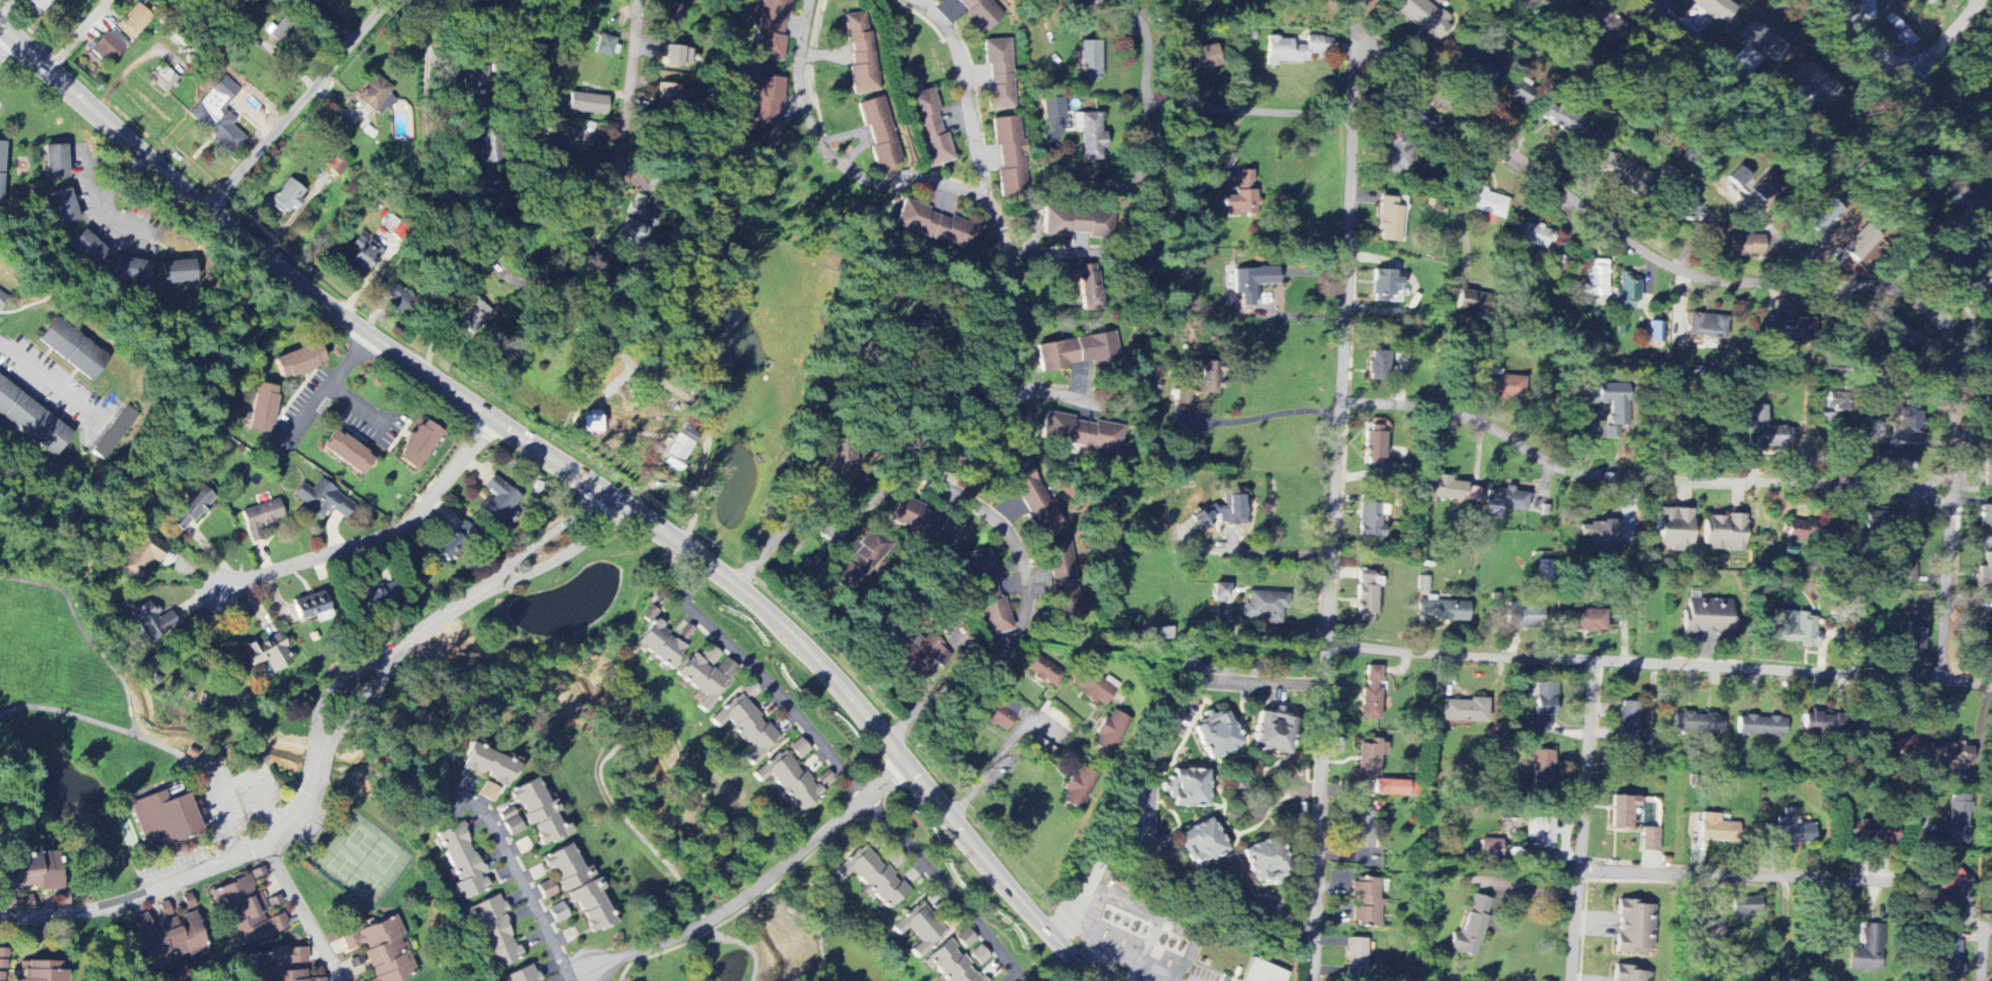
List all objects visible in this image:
building: (312, 0)
building: (1938, 0)
road: (1826, 1)
building: (39, 4)
building: (1531, 4)
building: (1713, 9)
building: (979, 13)
building: (671, 16)
building: (1425, 18)
building: (133, 22)
building: (1605, 24)
road: (1355, 26)
building: (771, 29)
road: (79, 35)
road: (1948, 41)
building: (1760, 44)
building: (604, 46)
building: (107, 47)
road: (7, 48)
building: (1295, 50)
building: (861, 54)
building: (675, 58)
building: (1196, 59)
building: (1090, 62)
building: (1477, 68)
building: (475, 72)
building: (999, 74)
building: (161, 78)
road: (1911, 80)
building: (1813, 86)
road: (963, 89)
building: (670, 91)
building: (378, 93)
building: (1518, 94)
road: (428, 96)
road: (1195, 103)
road: (301, 105)
building: (586, 105)
building: (1053, 109)
building: (766, 112)
building: (217, 117)
building: (1563, 120)
building: (403, 127)
building: (929, 128)
building: (880, 133)
building: (1090, 135)
building: (1399, 155)
road: (830, 156)
building: (1010, 157)
building: (54, 159)
building: (0, 160)
road: (616, 163)
building: (1626, 177)
building: (1752, 184)
road: (1139, 187)
road: (104, 196)
building: (1241, 197)
building: (285, 198)
building: (1959, 202)
building: (1486, 203)
building: (1690, 206)
building: (61, 207)
building: (1921, 211)
building: (1824, 216)
building: (1391, 219)
building: (635, 223)
building: (1077, 224)
building: (937, 227)
building: (1533, 235)
road: (1621, 236)
building: (1861, 242)
building: (1748, 245)
road: (1789, 247)
building: (86, 248)
road: (1048, 253)
building: (364, 255)
building: (129, 270)
building: (176, 272)
building: (1595, 279)
road: (1929, 279)
building: (1252, 283)
building: (1086, 284)
building: (1626, 292)
building: (2, 300)
road: (559, 302)
building: (1471, 305)
building: (474, 318)
building: (1707, 327)
building: (1655, 332)
building: (1785, 332)
building: (1907, 338)
building: (71, 350)
road: (1028, 351)
building: (1077, 351)
building: (298, 361)
building: (1378, 366)
building: (1203, 381)
road: (48, 383)
road: (328, 385)
building: (1500, 388)
building: (1613, 402)
building: (1837, 402)
road: (1062, 403)
road: (355, 406)
building: (261, 408)
road: (739, 410)
road: (1267, 415)
building: (1908, 419)
building: (31, 420)
building: (592, 422)
building: (1765, 430)
building: (1082, 433)
building: (1374, 442)
building: (417, 445)
building: (346, 453)
building: (677, 453)
building: (1895, 460)
road: (573, 474)
road: (1640, 479)
building: (1447, 489)
building: (1032, 498)
building: (324, 500)
building: (1506, 500)
building: (498, 501)
road: (773, 504)
building: (191, 508)
building: (1494, 511)
road: (985, 512)
building: (1223, 512)
road: (1334, 515)
building: (1986, 516)
building: (1370, 518)
building: (260, 519)
building: (1882, 523)
building: (929, 525)
building: (1674, 530)
building: (1800, 532)
building: (1599, 533)
building: (1724, 533)
road: (376, 539)
road: (539, 541)
road: (1273, 555)
building: (141, 556)
road: (556, 559)
building: (857, 565)
building: (1905, 569)
building: (1985, 574)
building: (1062, 582)
building: (987, 593)
building: (1220, 593)
building: (1367, 596)
building: (309, 606)
building: (1263, 608)
building: (1442, 611)
building: (1525, 617)
building: (1710, 618)
building: (1589, 620)
building: (153, 621)
building: (946, 622)
building: (1794, 628)
building: (1163, 633)
building: (1914, 639)
building: (661, 646)
building: (267, 653)
building: (919, 654)
building: (710, 656)
road: (373, 663)
road: (1660, 666)
building: (1043, 671)
building: (706, 679)
building: (1094, 688)
road: (774, 690)
building: (1371, 695)
building: (1544, 707)
building: (1464, 711)
building: (1000, 714)
building: (1698, 723)
building: (1824, 723)
building: (1628, 726)
building: (1761, 726)
building: (746, 728)
building: (1111, 733)
building: (1273, 733)
building: (1217, 735)
building: (1897, 742)
building: (799, 749)
road: (1004, 755)
building: (1951, 757)
building: (1370, 758)
building: (489, 766)
building: (1542, 768)
building: (789, 781)
building: (1391, 788)
building: (1079, 789)
building: (1187, 789)
road: (1150, 790)
building: (488, 793)
building: (1622, 812)
building: (539, 813)
building: (1132, 815)
building: (163, 820)
road: (1583, 821)
building: (510, 822)
building: (1958, 822)
building: (1363, 830)
building: (1717, 830)
building: (1790, 831)
building: (1541, 832)
building: (1873, 833)
building: (1650, 840)
building: (1202, 843)
building: (1491, 849)
road: (248, 861)
building: (1264, 862)
building: (462, 863)
building: (26, 868)
building: (566, 868)
road: (515, 877)
building: (873, 877)
road: (1735, 879)
building: (546, 890)
road: (947, 891)
building: (1950, 891)
road: (750, 892)
building: (1366, 903)
building: (1747, 906)
building: (592, 907)
building: (244, 914)
building: (557, 914)
road: (307, 915)
road: (1750, 917)
building: (1470, 928)
building: (1635, 928)
building: (920, 929)
road: (1784, 931)
building: (494, 933)
road: (1983, 938)
building: (965, 939)
building: (172, 941)
building: (383, 951)
building: (1869, 951)
building: (979, 955)
building: (1950, 955)
building: (1356, 959)
building: (3, 960)
building: (950, 964)
building: (277, 965)
building: (44, 971)
building: (1263, 972)
building: (522, 975)
building: (1628, 975)
building: (2, 977)
road: (568, 979)

